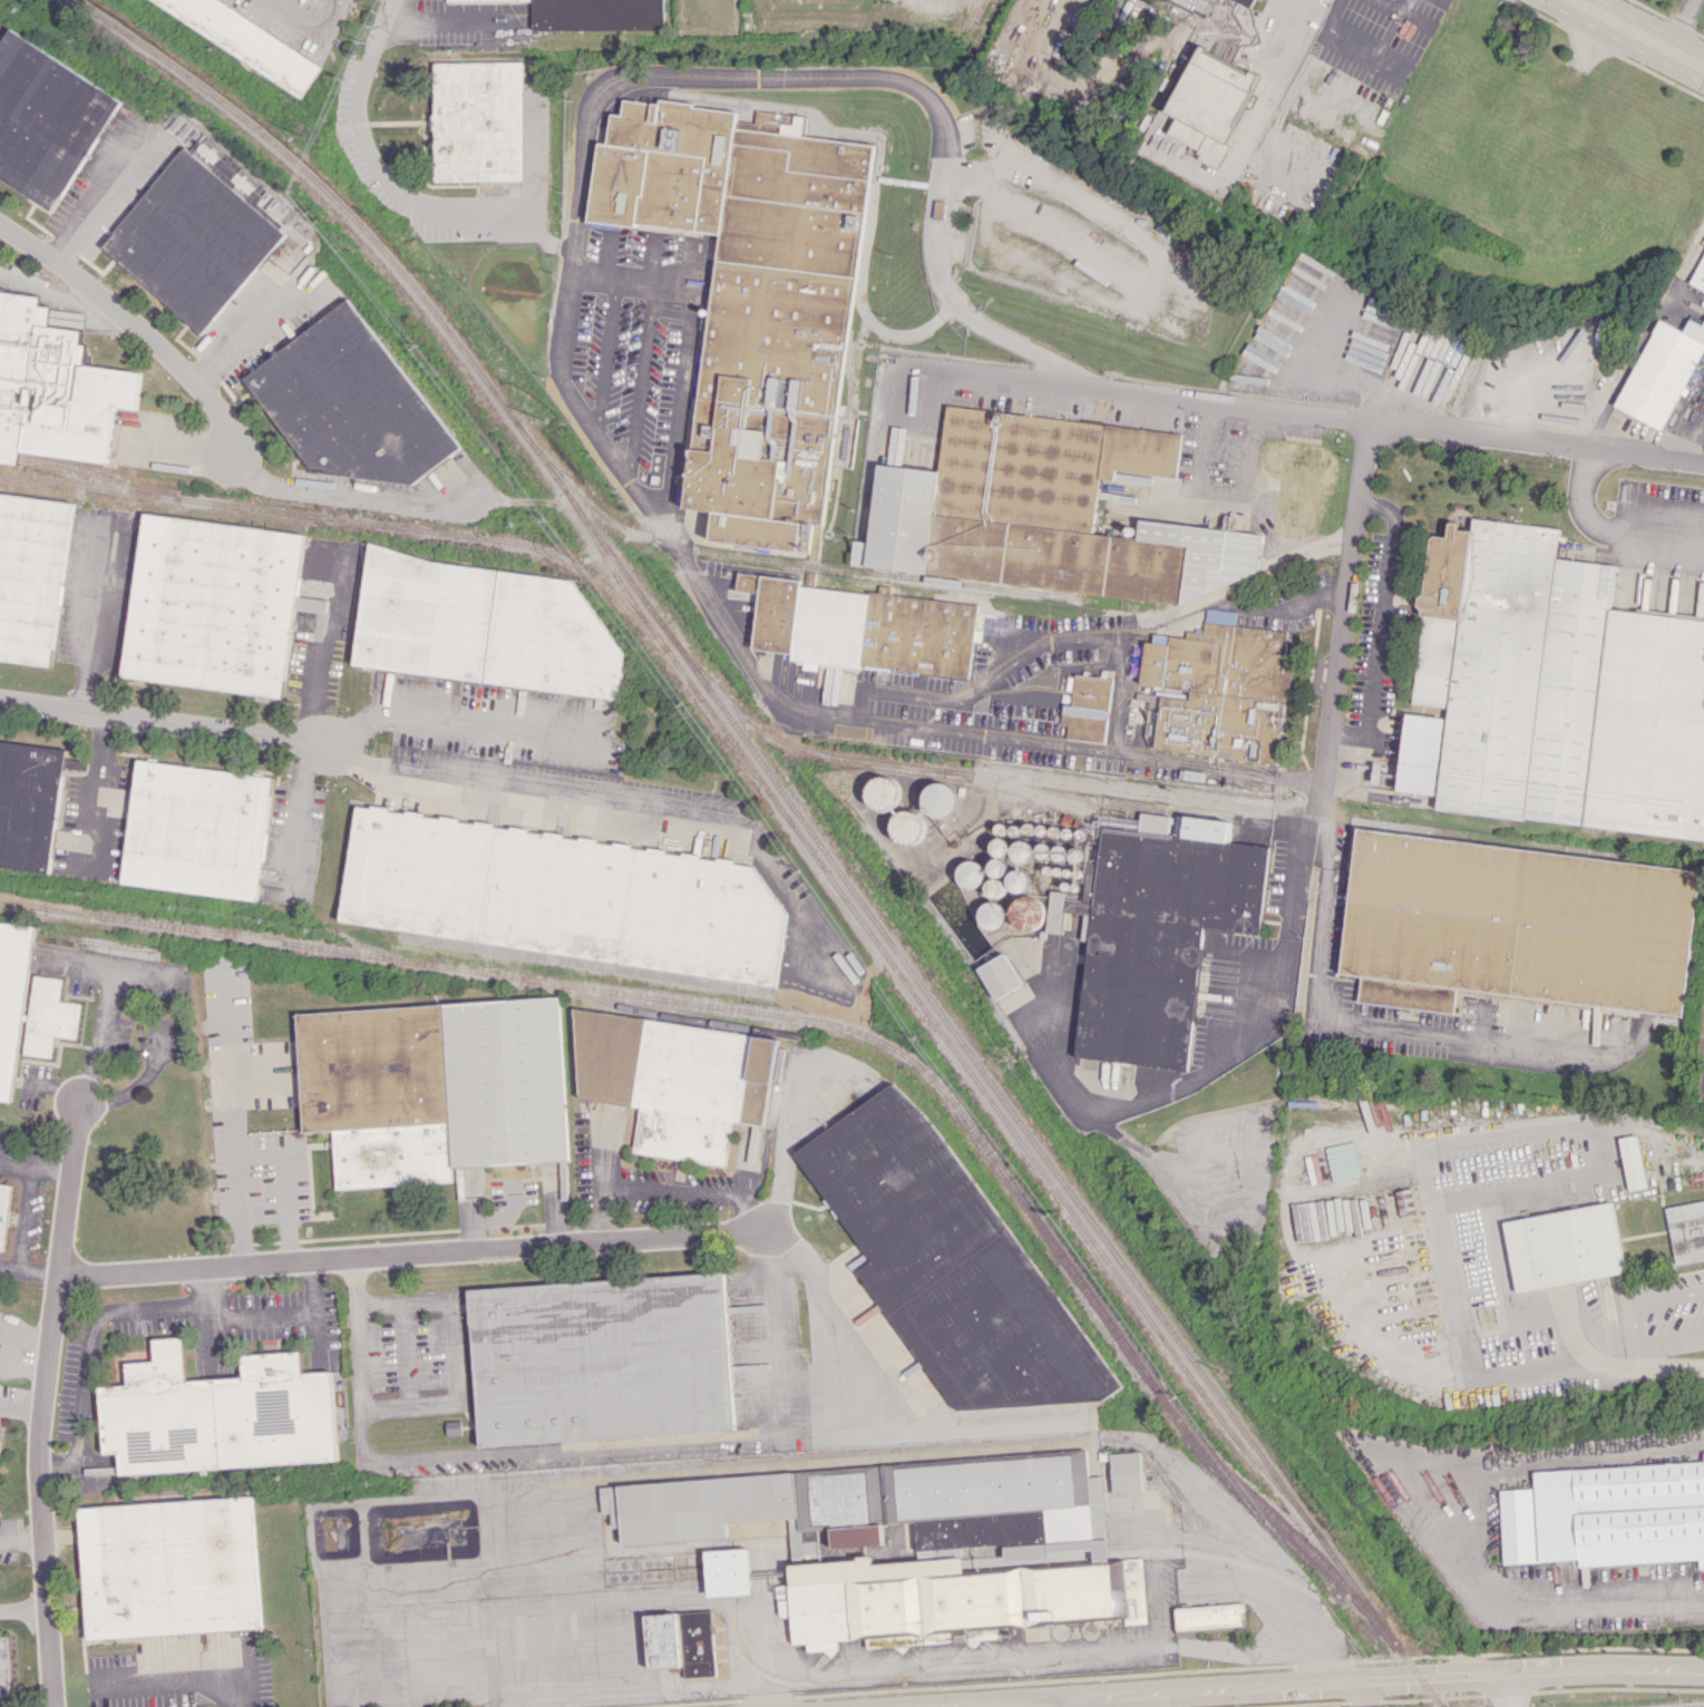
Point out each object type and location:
building: (474, 0)
building: (1247, 2)
building: (595, 14)
road: (447, 21)
road: (1679, 22)
road: (310, 25)
road: (1640, 31)
building: (247, 40)
road: (366, 57)
road: (699, 72)
road: (1265, 87)
building: (1208, 104)
building: (45, 119)
building: (478, 121)
road: (536, 168)
road: (100, 196)
road: (420, 207)
road: (1043, 225)
building: (193, 237)
building: (1698, 273)
building: (750, 297)
road: (135, 322)
road: (252, 326)
road: (1644, 333)
building: (1658, 373)
building: (53, 388)
building: (350, 402)
road: (1394, 427)
road: (1694, 438)
building: (1131, 477)
building: (1295, 492)
road: (350, 498)
building: (1043, 513)
railway: (334, 518)
road: (1607, 527)
railway: (793, 563)
building: (30, 575)
road: (1312, 596)
building: (213, 604)
building: (311, 604)
road: (1345, 614)
road: (92, 615)
road: (1384, 624)
building: (481, 626)
building: (860, 627)
building: (1215, 684)
building: (1551, 691)
building: (1087, 709)
road: (449, 715)
road: (164, 718)
road: (98, 784)
building: (883, 793)
road: (617, 799)
building: (941, 799)
building: (29, 803)
road: (295, 812)
railway: (799, 816)
building: (907, 827)
building: (196, 829)
building: (1023, 851)
road: (1288, 891)
building: (557, 895)
railway: (21, 905)
building: (1028, 913)
building: (992, 916)
building: (1519, 923)
building: (1156, 930)
building: (1000, 976)
road: (160, 978)
building: (12, 997)
railway: (655, 1014)
building: (49, 1016)
road: (1364, 1025)
railway: (838, 1026)
railway: (941, 1032)
building: (675, 1081)
building: (434, 1087)
road: (231, 1110)
road: (1439, 1144)
building: (1632, 1162)
road: (33, 1163)
road: (285, 1182)
road: (668, 1189)
building: (4, 1211)
road: (26, 1216)
building: (1685, 1230)
building: (1562, 1247)
road: (411, 1252)
building: (946, 1260)
road: (10, 1267)
road: (39, 1272)
road: (1636, 1301)
road: (208, 1314)
road: (288, 1314)
road: (827, 1319)
road: (776, 1332)
road: (317, 1340)
road: (451, 1353)
road: (1586, 1353)
road: (85, 1355)
building: (602, 1358)
road: (1672, 1365)
road: (39, 1403)
building: (217, 1414)
road: (870, 1430)
road: (475, 1454)
road: (750, 1461)
building: (1126, 1472)
building: (1606, 1515)
road: (19, 1539)
building: (912, 1543)
building: (168, 1567)
building: (728, 1572)
road: (1619, 1591)
road: (634, 1601)
road: (22, 1609)
building: (1208, 1616)
building: (681, 1641)
road: (1045, 1656)
road: (507, 1658)
building: (3, 1667)
road: (1389, 1678)
road: (177, 1680)
road: (636, 1688)
road: (1507, 1690)
road: (1366, 1693)
road: (1145, 1699)
road: (1024, 1703)
road: (1075, 1703)

